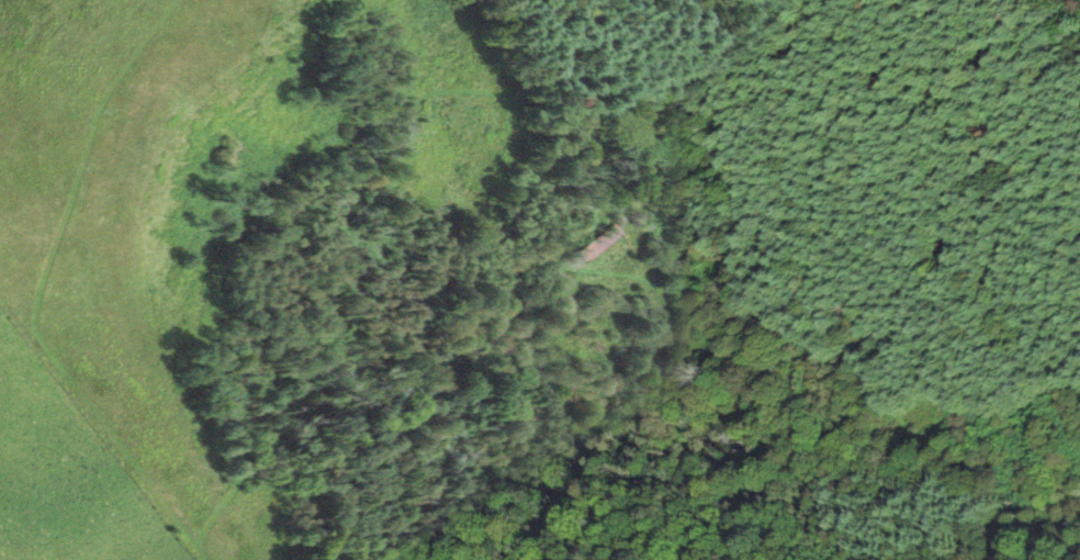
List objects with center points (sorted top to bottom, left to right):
building: (586, 243)

